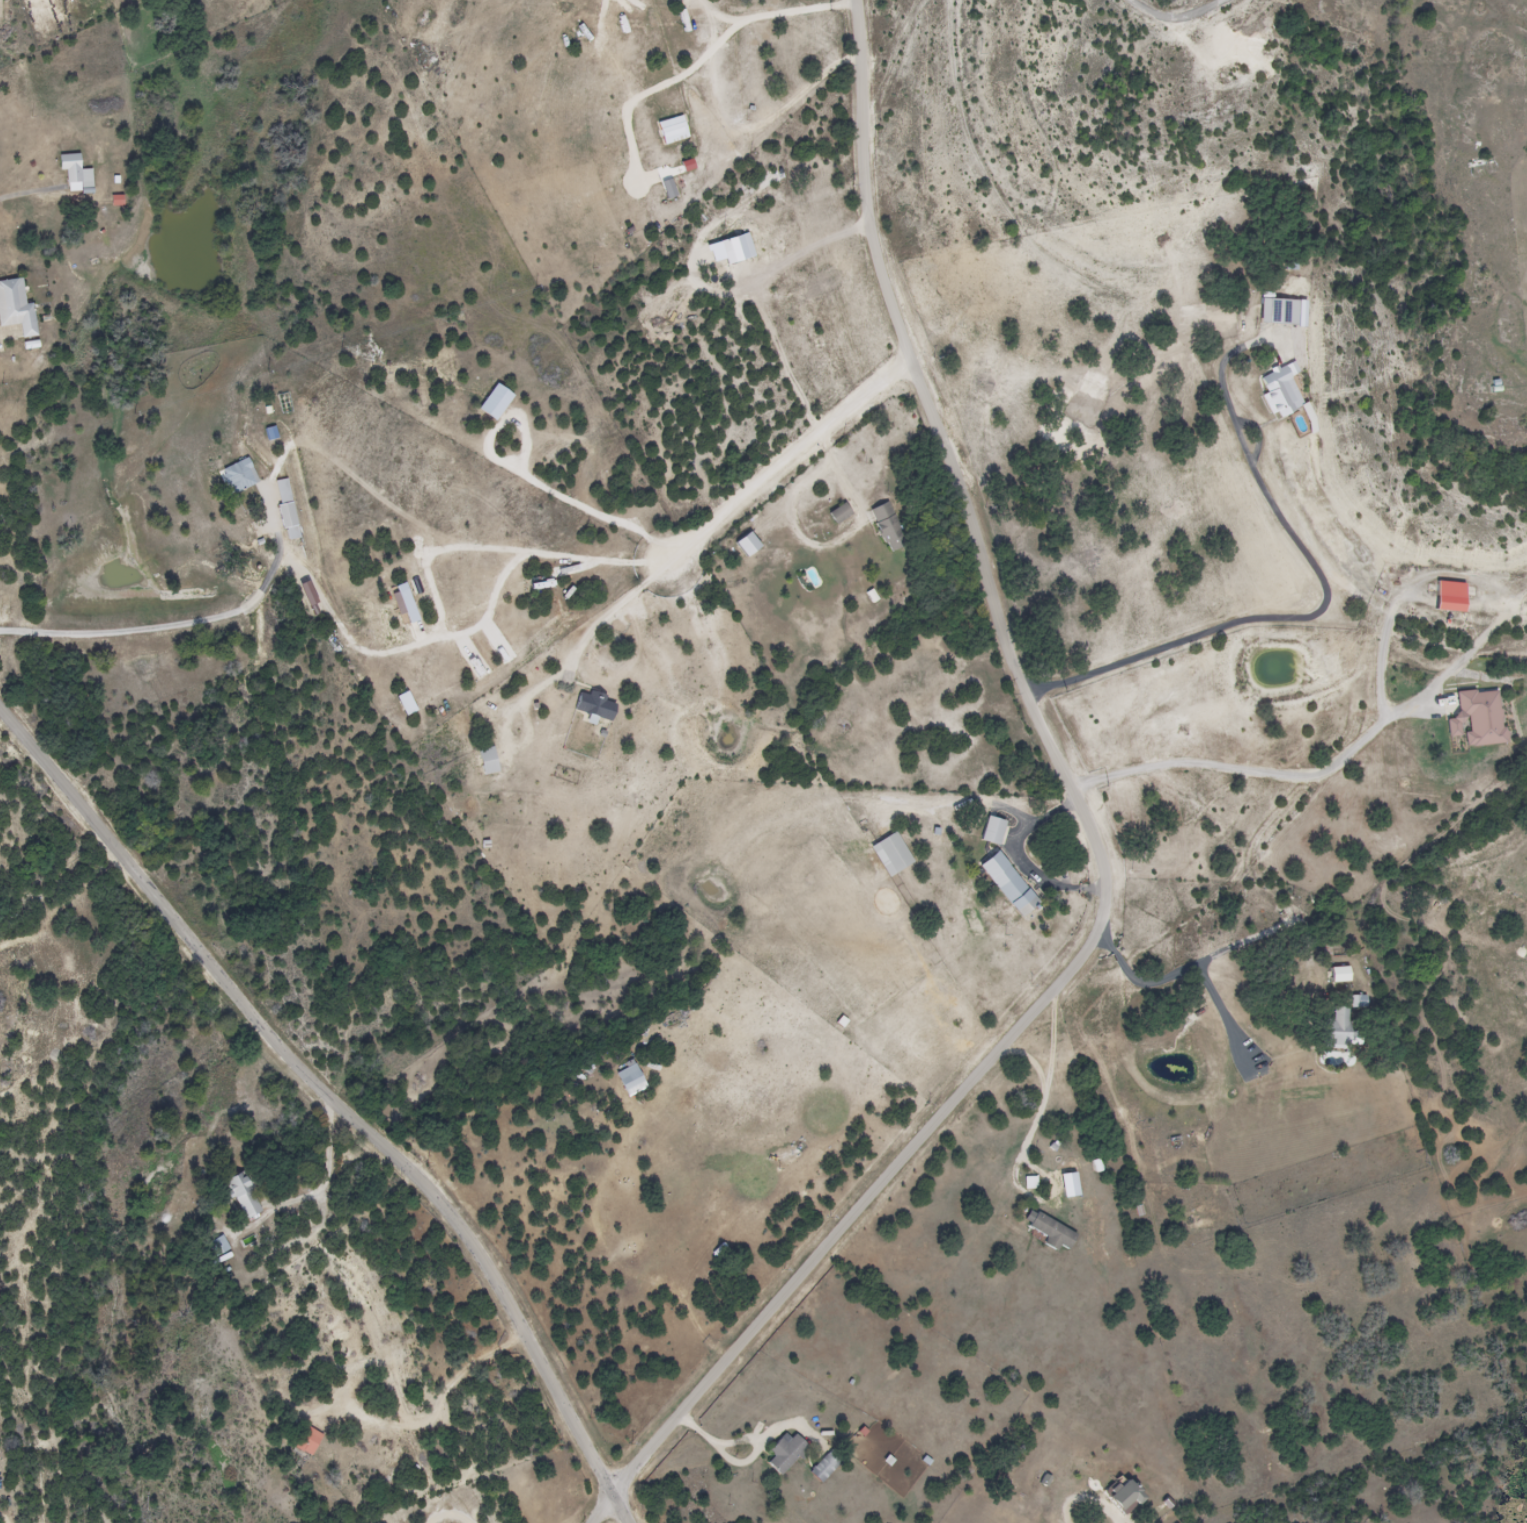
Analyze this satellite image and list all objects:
road: (1197, 25)
road: (895, 57)
building: (670, 130)
building: (73, 174)
building: (14, 308)
building: (1276, 312)
building: (1279, 394)
road: (795, 459)
building: (237, 476)
building: (285, 516)
building: (840, 517)
building: (887, 527)
building: (1447, 597)
road: (1273, 616)
road: (153, 626)
building: (591, 706)
building: (1476, 719)
building: (485, 762)
building: (991, 831)
road: (1093, 831)
building: (889, 855)
building: (1006, 884)
road: (1314, 909)
building: (1337, 975)
building: (1356, 1002)
building: (1333, 1031)
building: (629, 1081)
road: (334, 1103)
building: (240, 1197)
building: (1047, 1231)
building: (214, 1249)
building: (305, 1441)
building: (784, 1453)
building: (823, 1459)
building: (1122, 1495)

